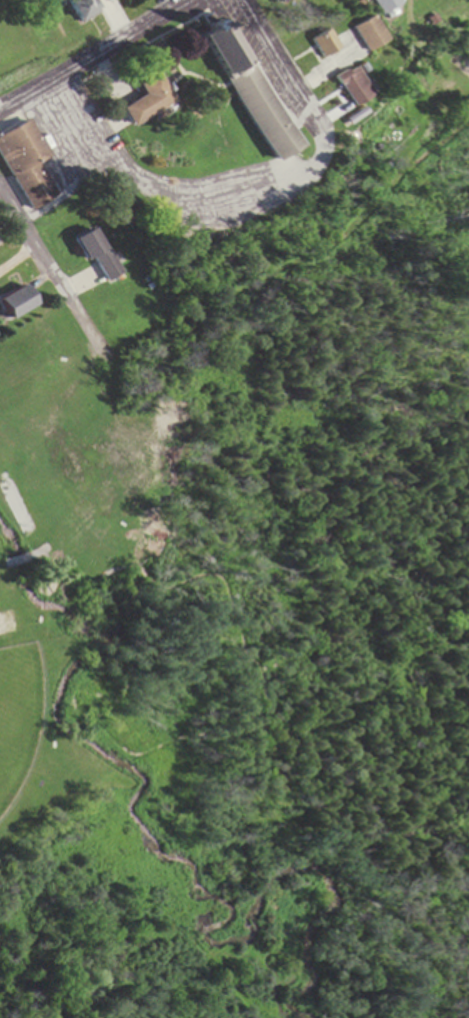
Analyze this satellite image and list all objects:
building: (277, 2)
building: (76, 9)
building: (364, 35)
building: (319, 45)
road: (93, 57)
road: (271, 64)
building: (347, 89)
building: (245, 93)
building: (146, 101)
building: (27, 165)
building: (98, 254)
road: (51, 272)
building: (15, 304)
park: (43, 646)

